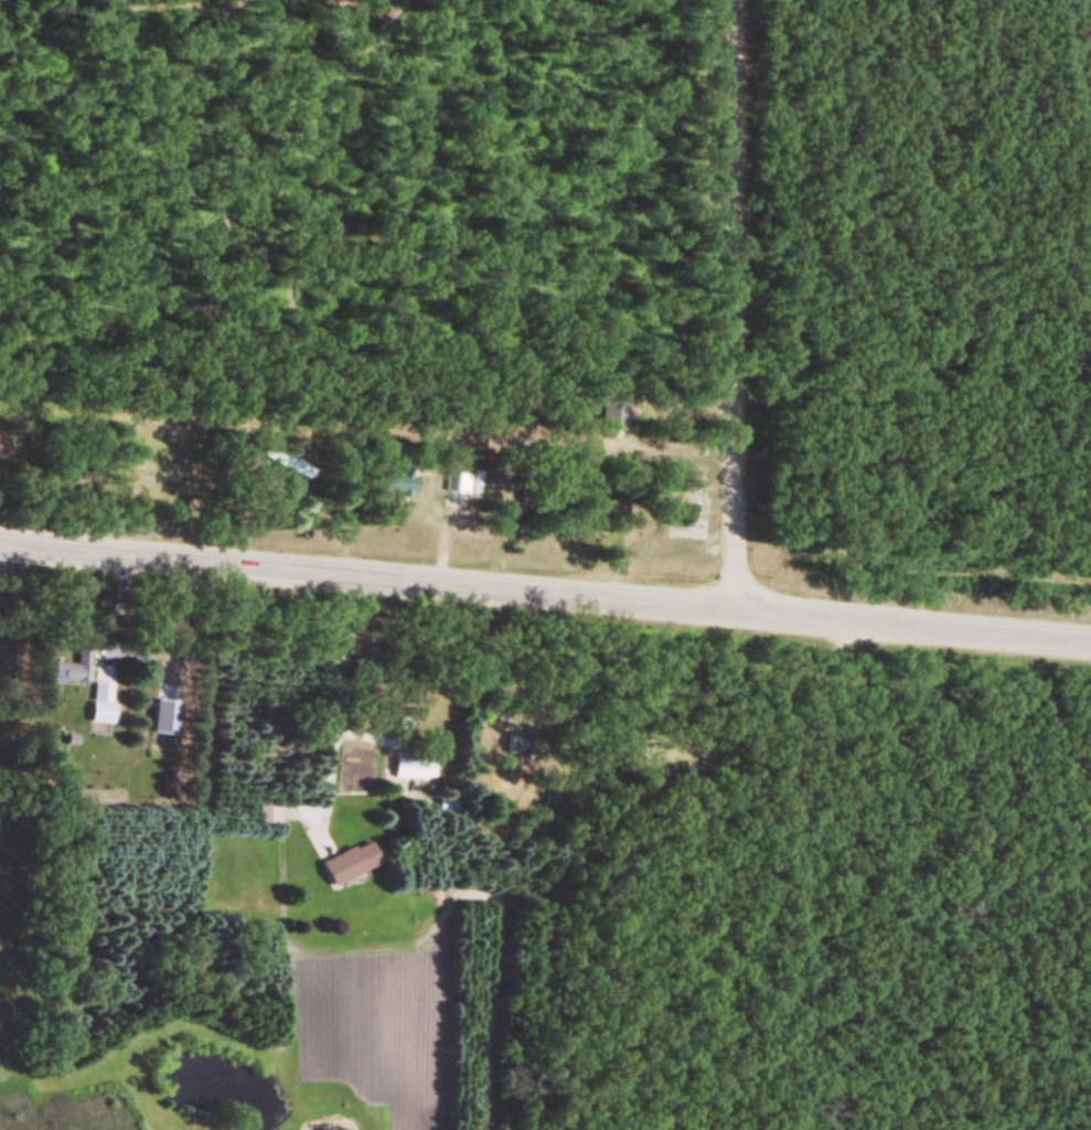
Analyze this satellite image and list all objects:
road: (725, 306)
building: (289, 466)
road: (545, 596)
building: (69, 671)
building: (100, 701)
building: (516, 743)
building: (413, 768)
building: (266, 813)
building: (347, 863)

